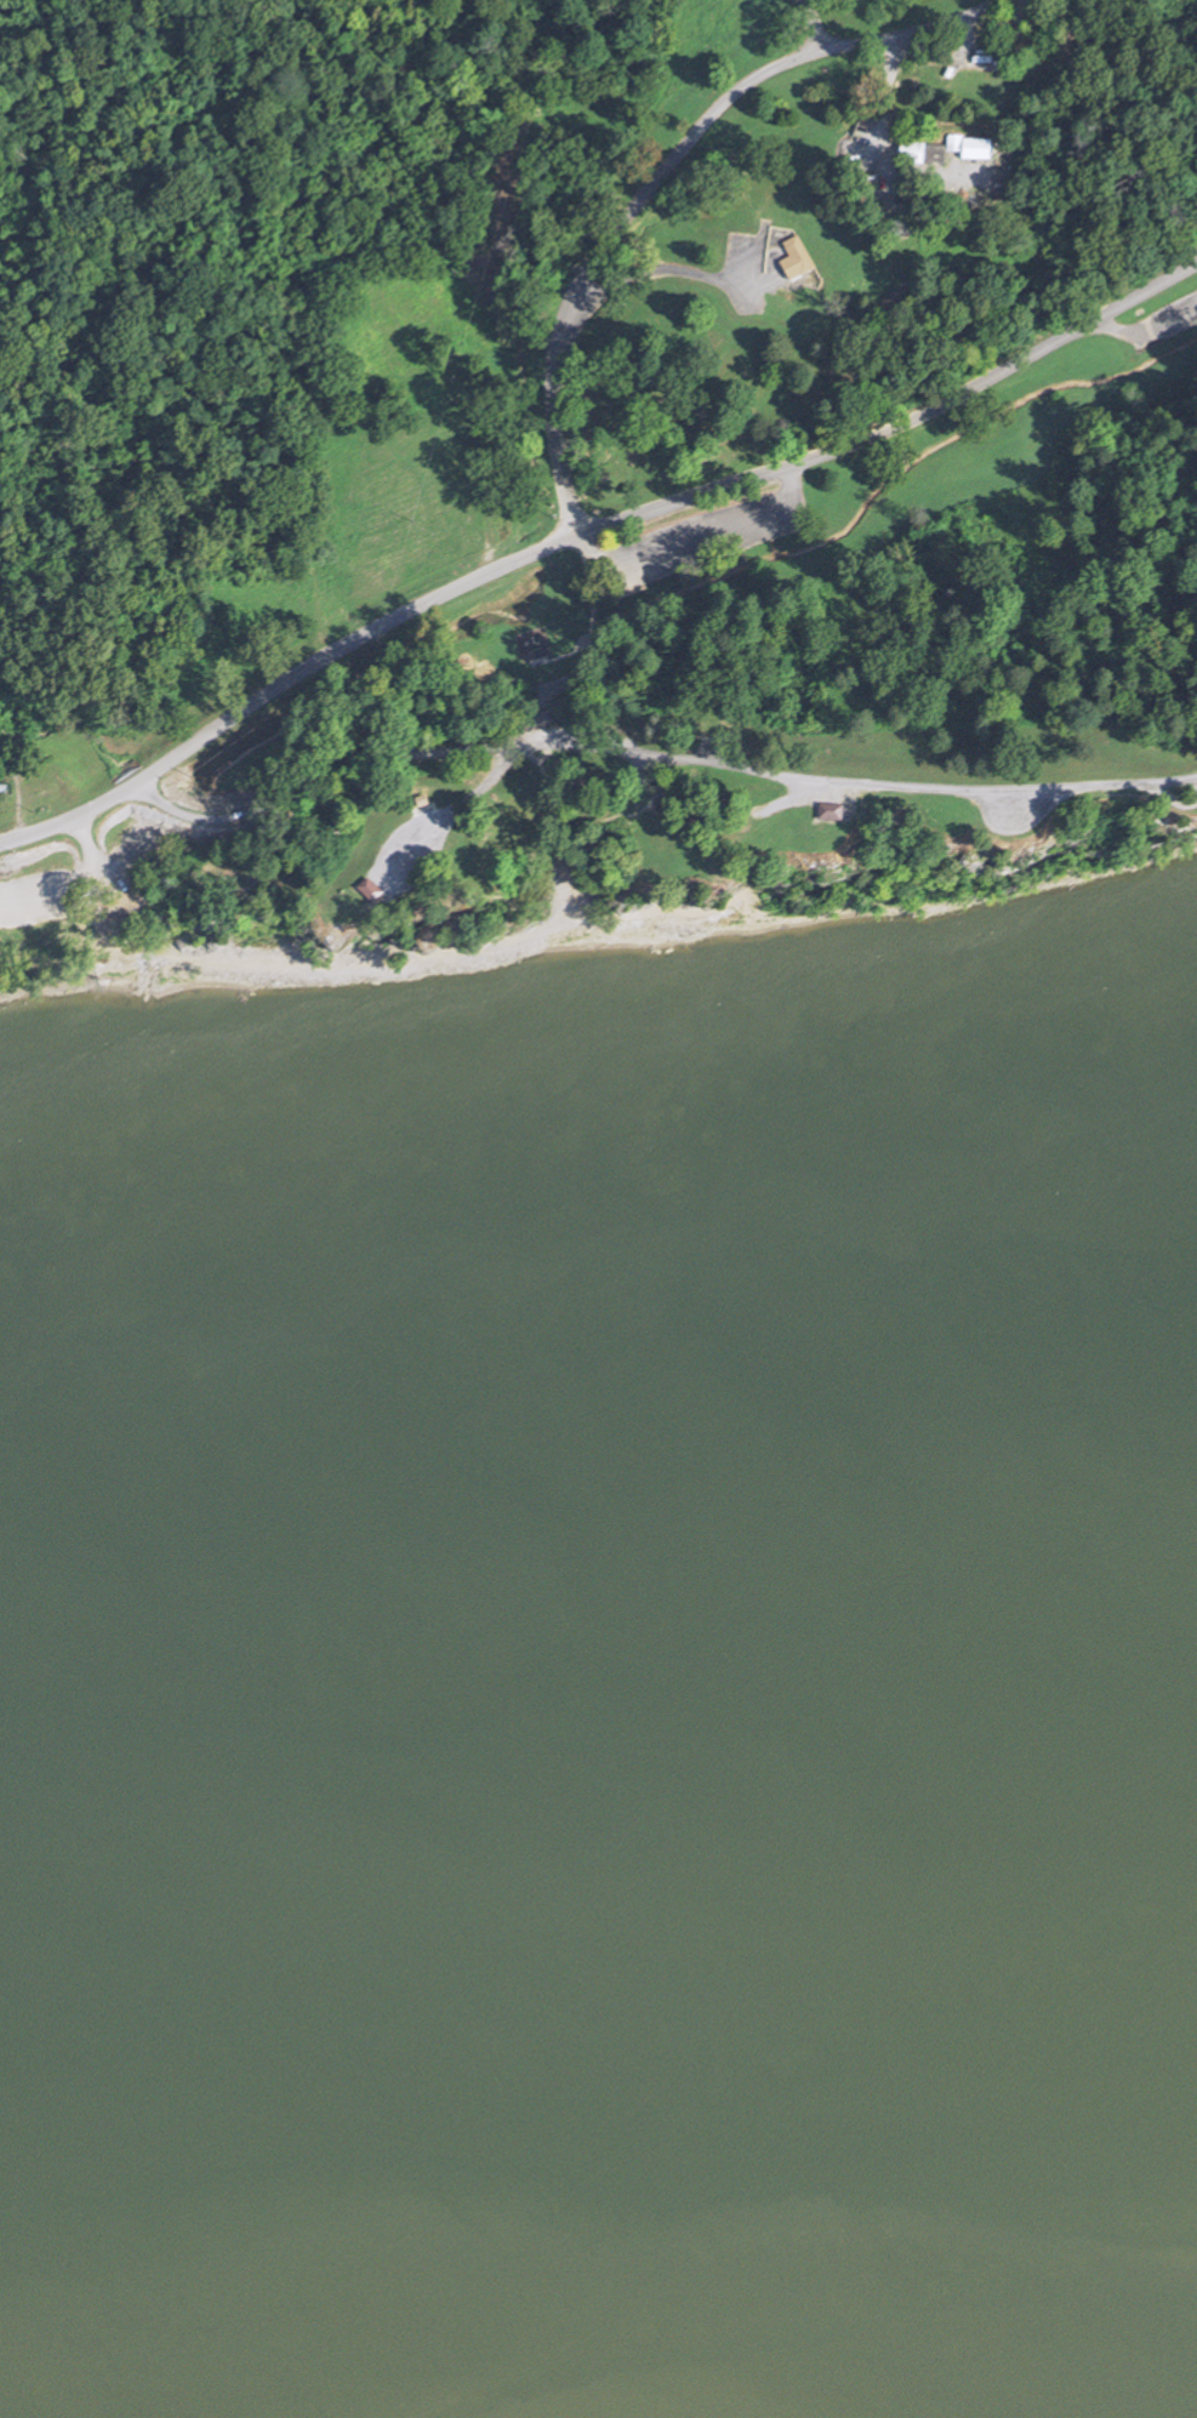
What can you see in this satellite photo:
road: (804, 2)
road: (814, 23)
road: (912, 34)
building: (975, 152)
building: (922, 155)
road: (666, 167)
building: (793, 251)
building: (800, 312)
parking lot: (1159, 323)
road: (1146, 332)
road: (562, 338)
road: (879, 430)
parking lot: (697, 543)
road: (699, 543)
road: (592, 620)
road: (325, 661)
road: (587, 738)
building: (4, 787)
parking lot: (1010, 795)
road: (18, 805)
road: (449, 810)
building: (819, 811)
road: (552, 815)
road: (89, 846)
road: (82, 885)
building: (358, 889)
parking lot: (32, 895)
road: (635, 923)
road: (357, 964)
river: (602, 1747)

